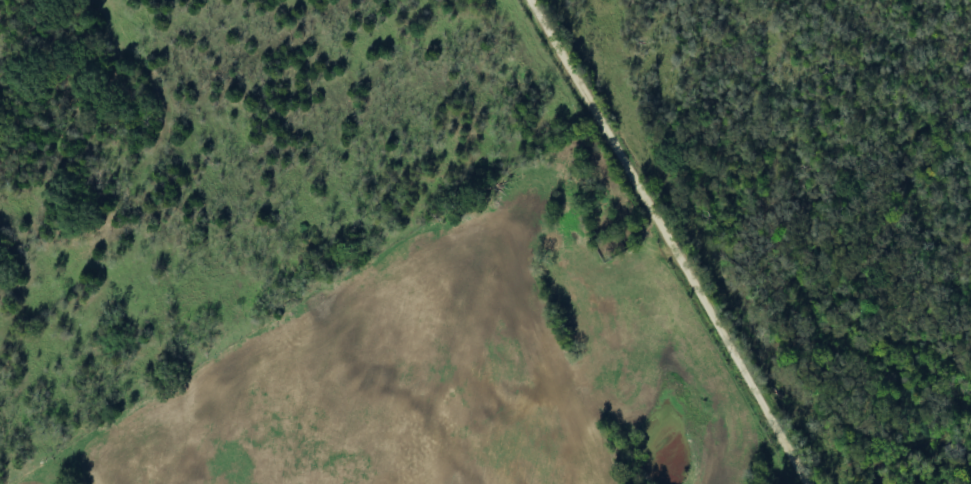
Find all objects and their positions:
road: (680, 241)

